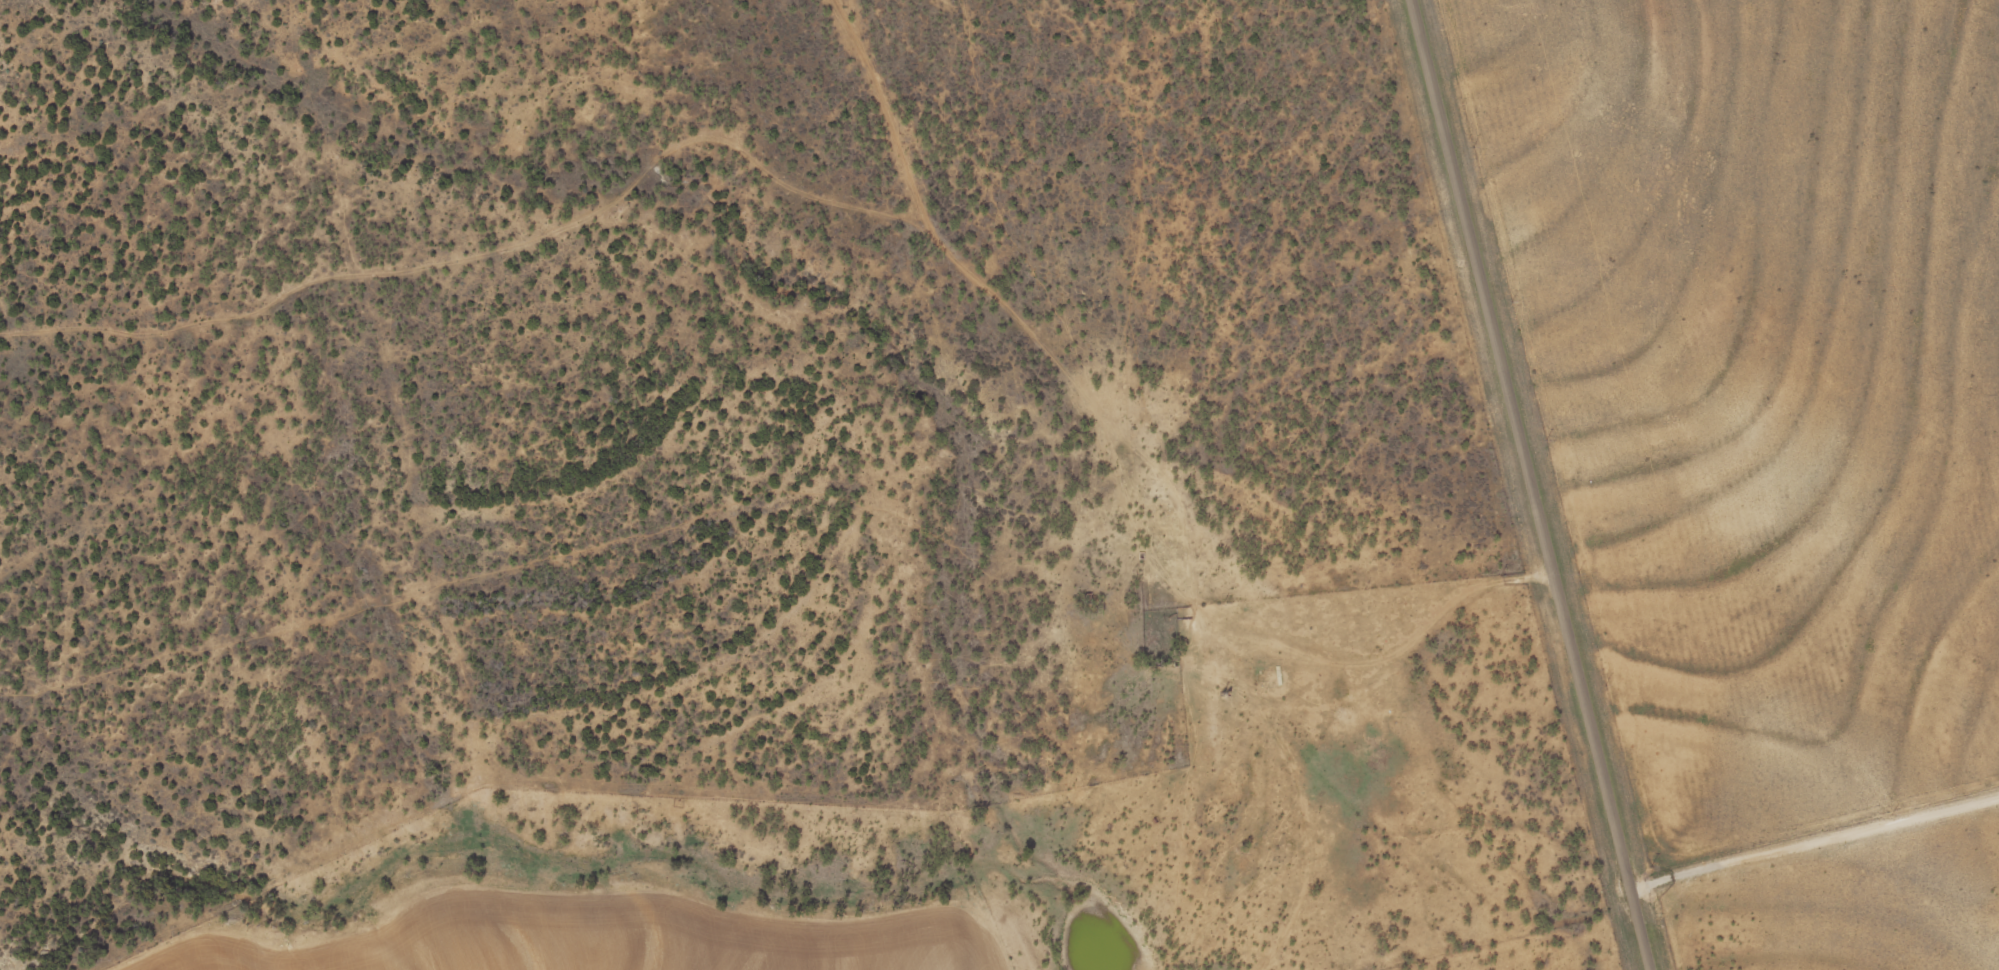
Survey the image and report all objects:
road: (1537, 484)
road: (1421, 621)
road: (1816, 839)

